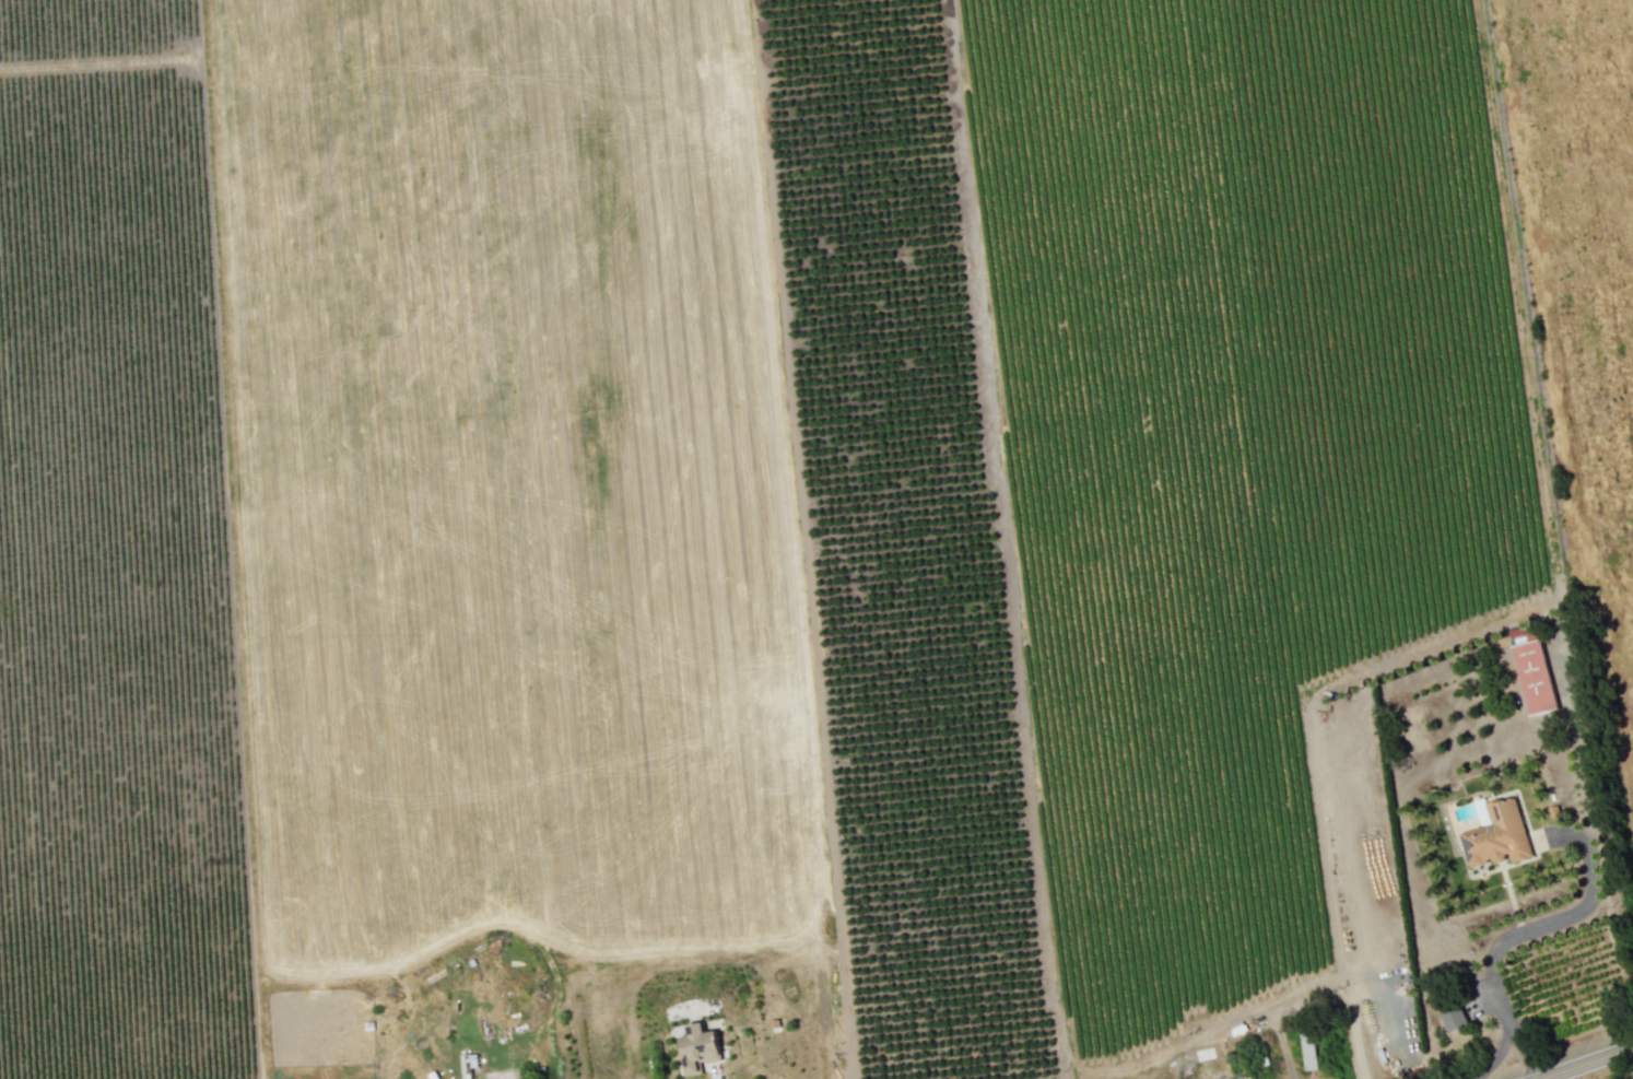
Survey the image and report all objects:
building: (1534, 677)
building: (1497, 835)
road: (1591, 888)
building: (1453, 1015)
road: (1353, 1035)
building: (698, 1047)
building: (1307, 1051)
road: (1589, 1063)

